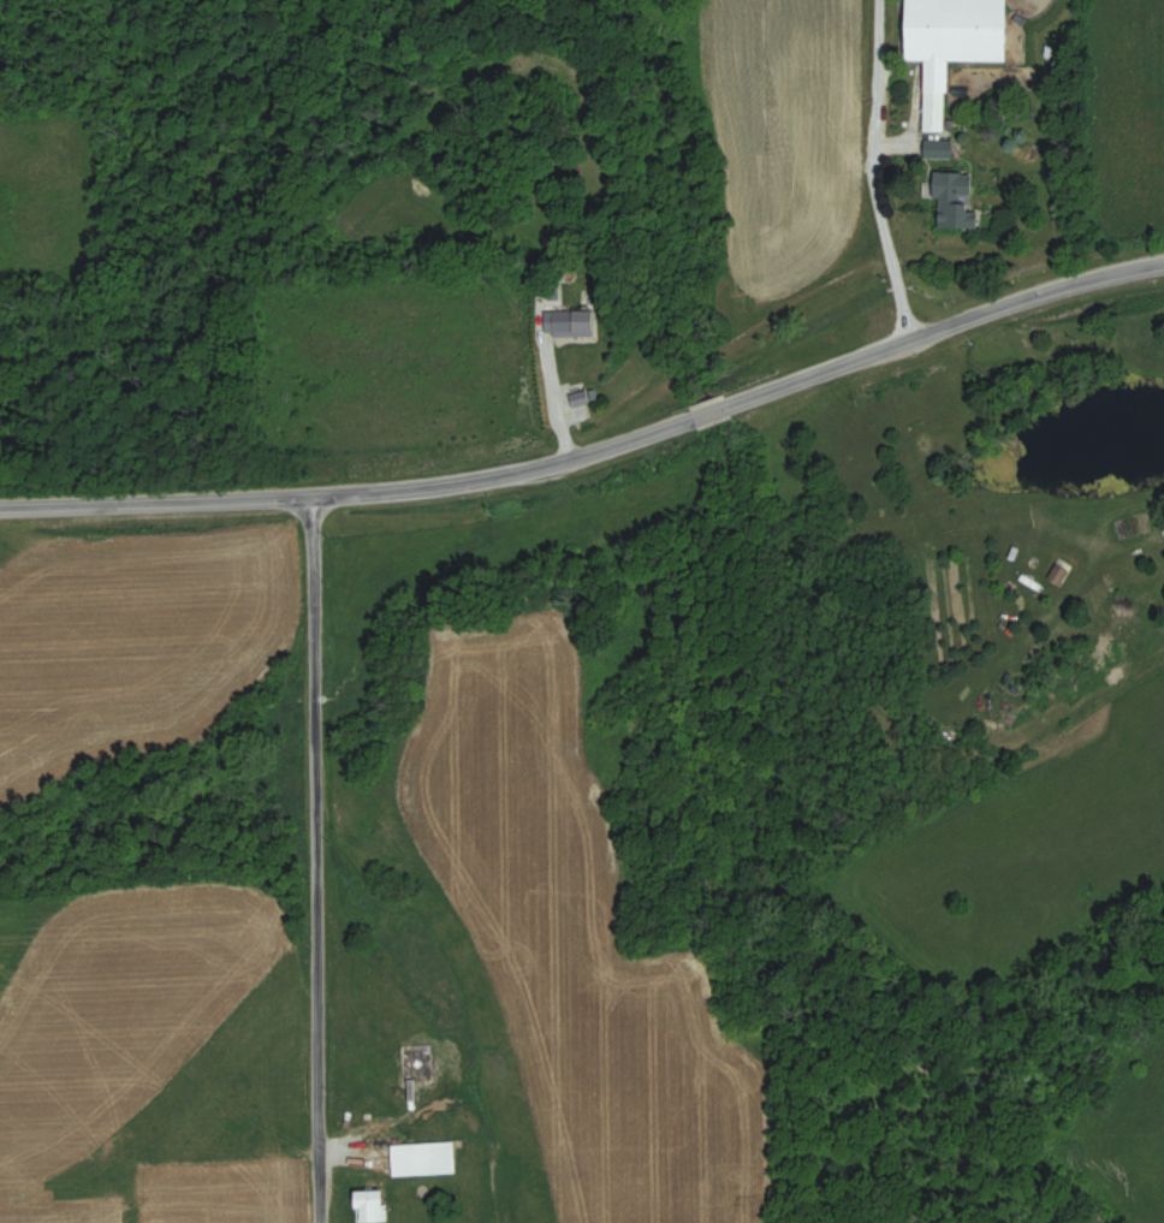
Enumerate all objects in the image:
building: (952, 43)
building: (938, 148)
road: (872, 171)
building: (955, 201)
building: (569, 323)
road: (551, 393)
road: (593, 446)
building: (1059, 570)
road: (316, 856)
building: (428, 1062)
road: (379, 1126)
building: (423, 1158)
building: (370, 1206)

